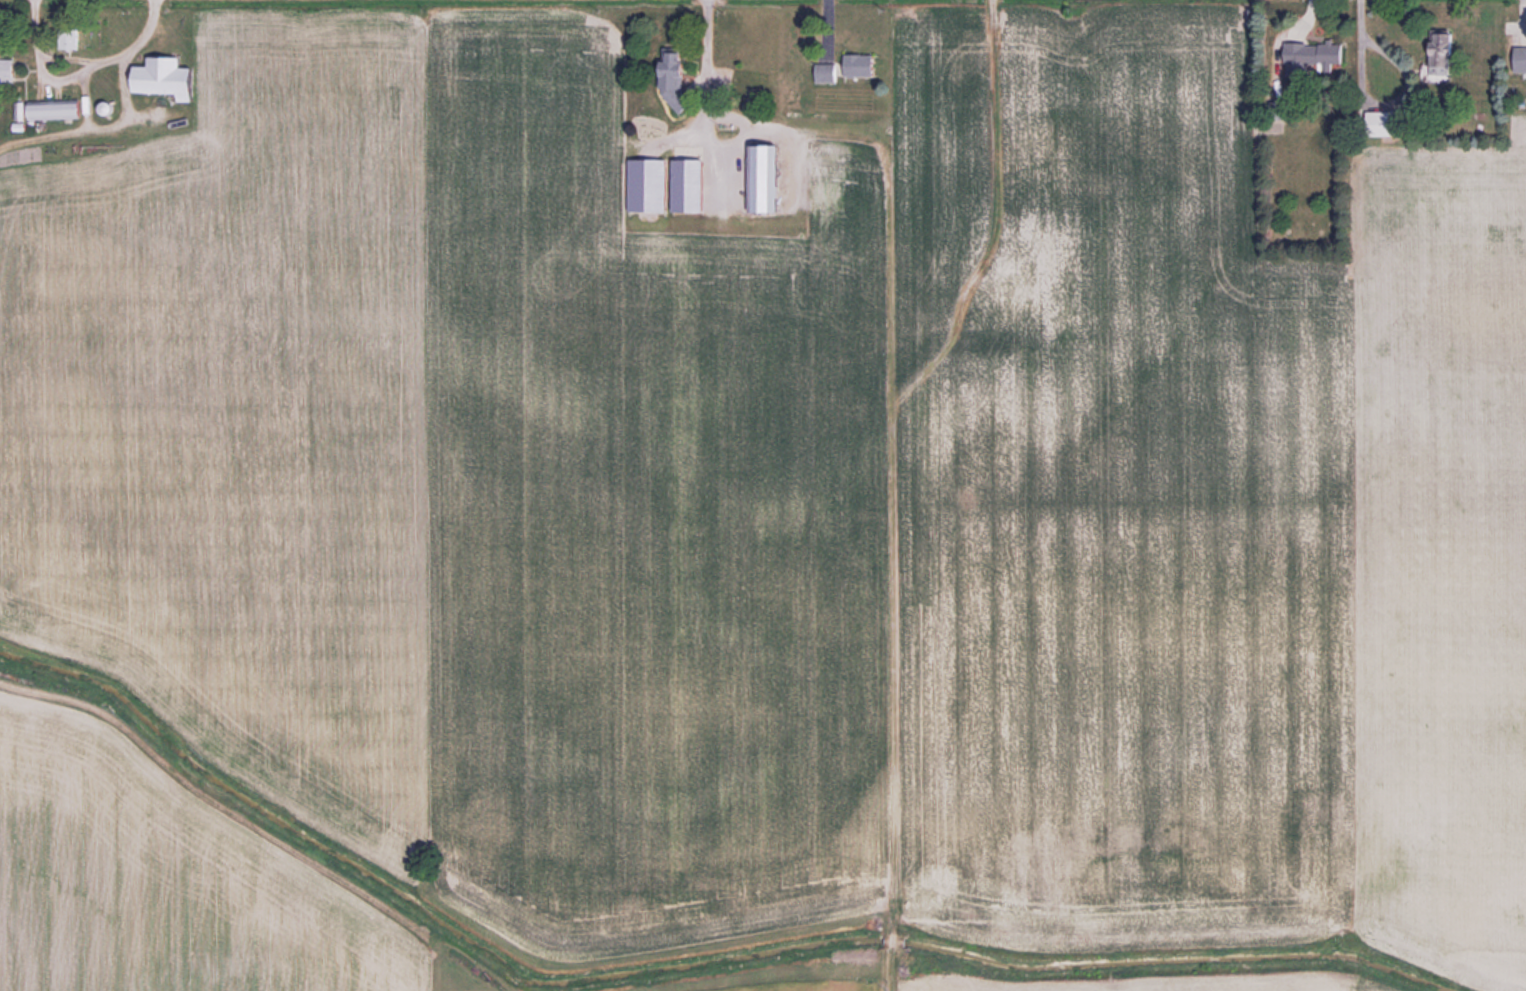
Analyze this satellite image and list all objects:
building: (70, 39)
building: (1444, 50)
building: (1316, 56)
building: (1521, 60)
building: (861, 66)
building: (7, 70)
building: (828, 73)
building: (169, 78)
building: (678, 80)
building: (58, 111)
building: (766, 178)
building: (692, 185)
building: (1013, 317)

